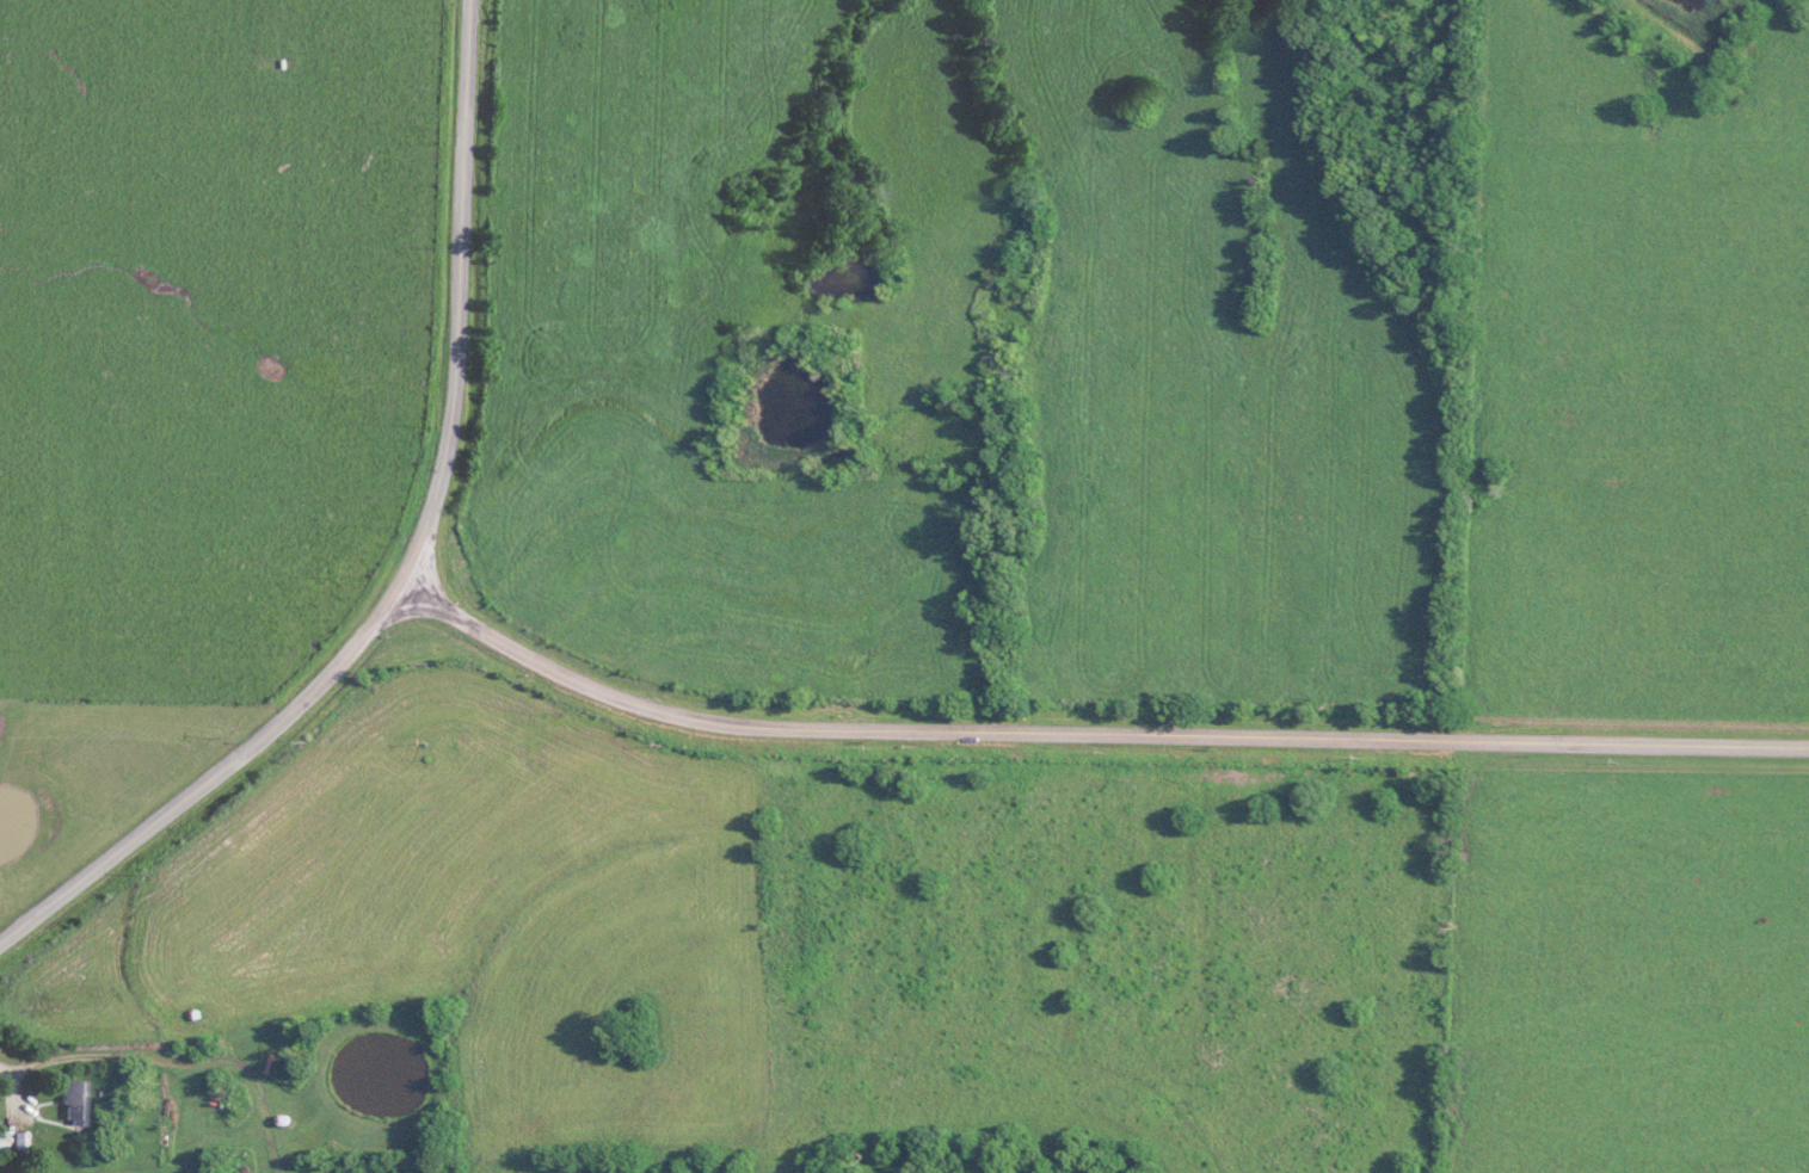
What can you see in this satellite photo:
road: (461, 292)
road: (1093, 731)
road: (216, 773)
road: (17, 1084)
building: (69, 1103)
building: (19, 1140)
building: (1, 1143)

